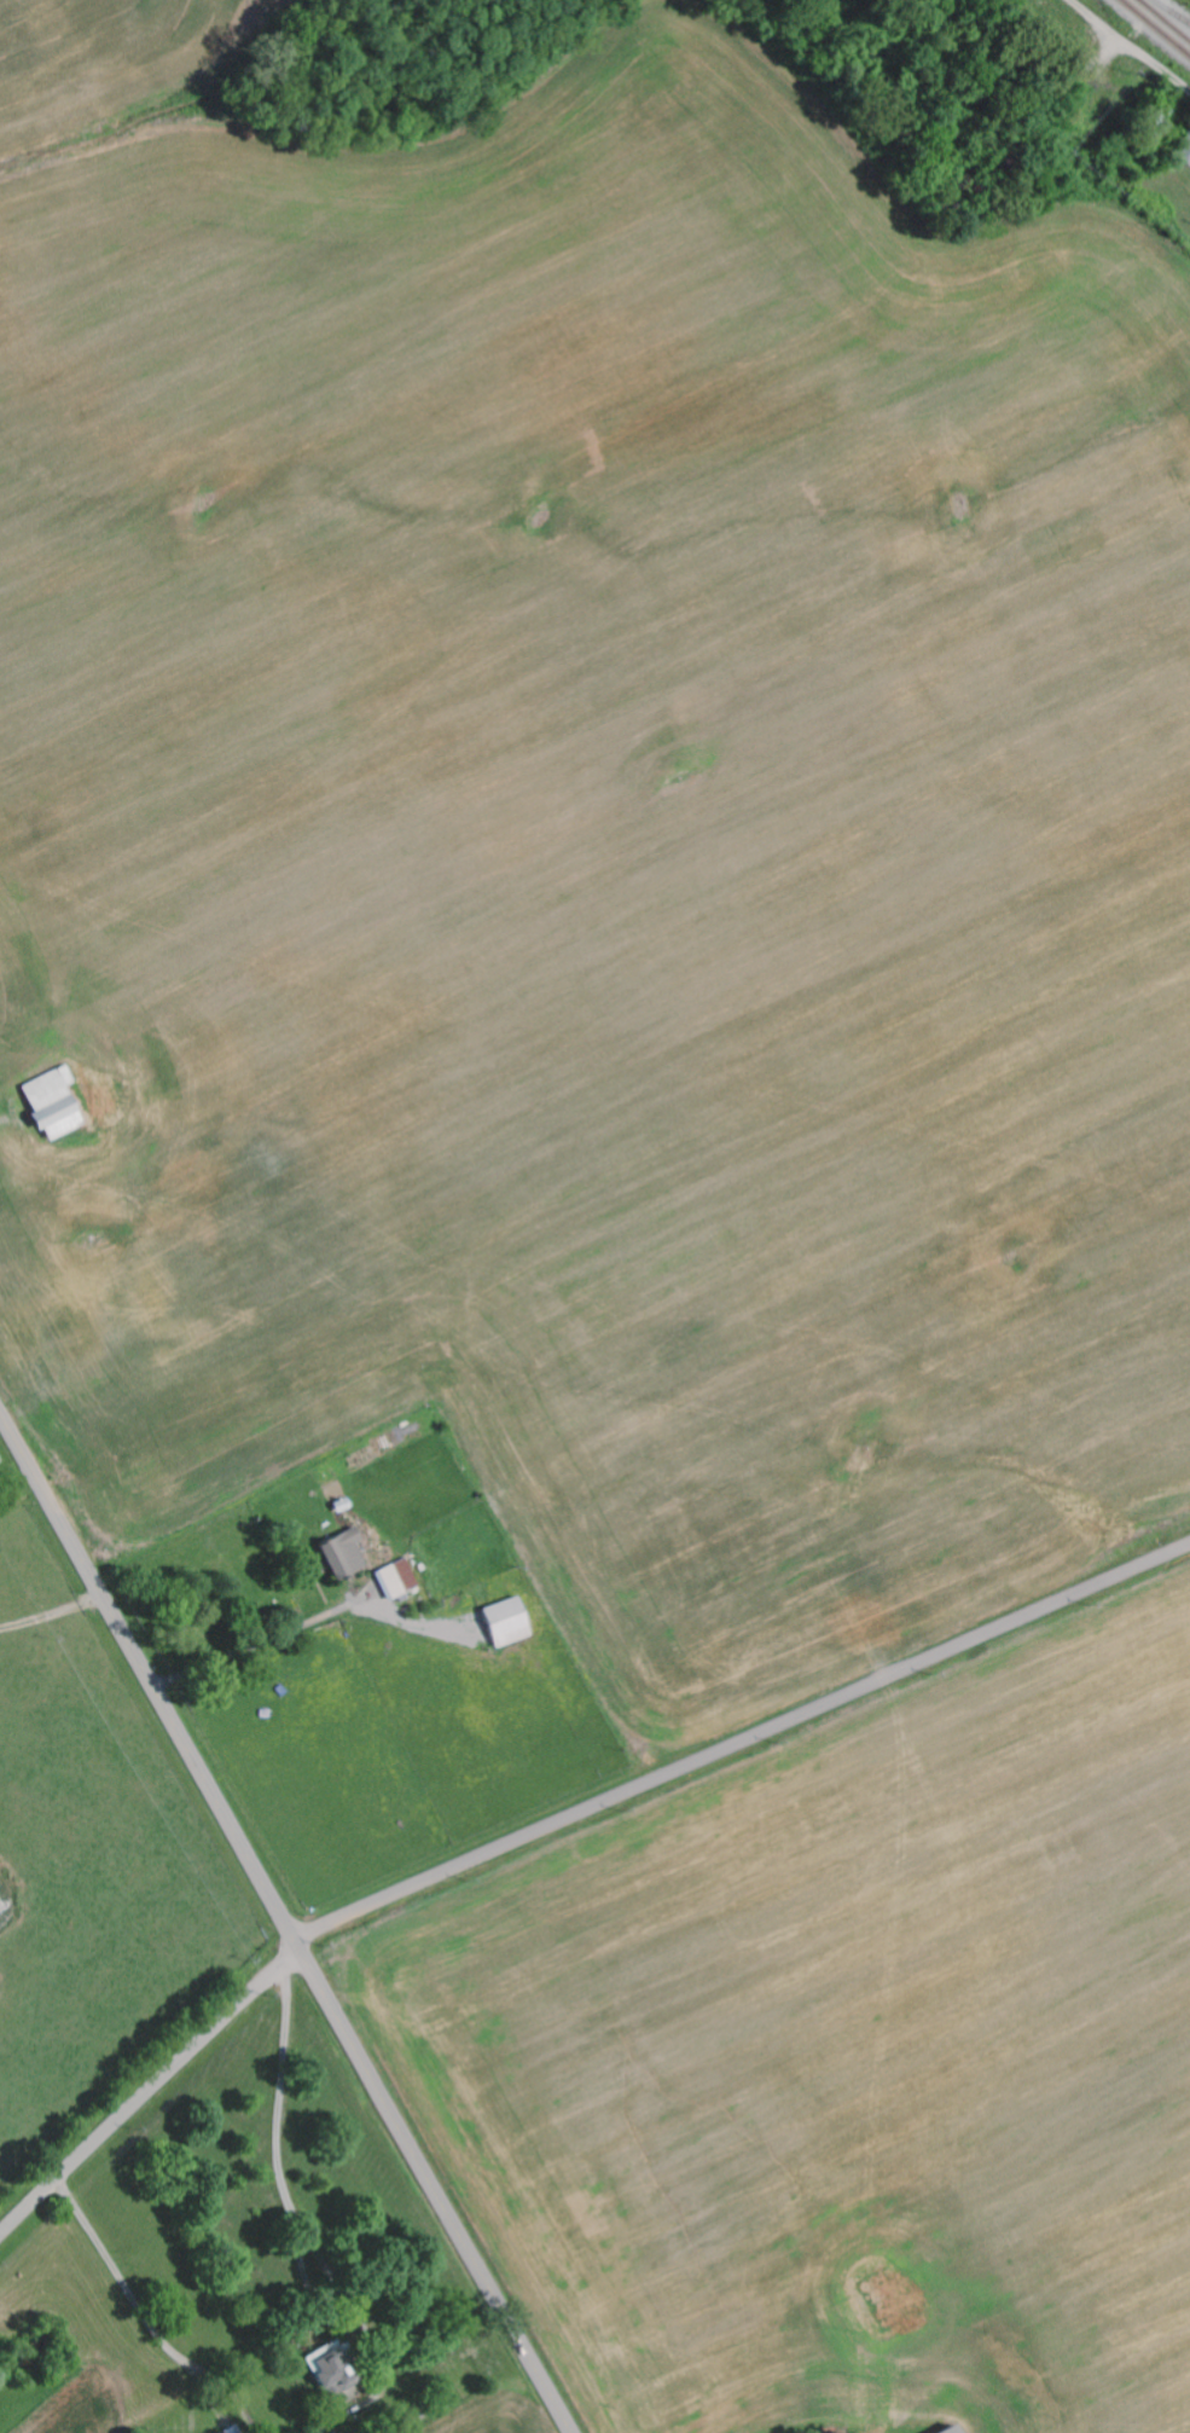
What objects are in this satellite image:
railway: (1172, 11)
railway: (1163, 21)
railway: (1154, 29)
road: (1185, 89)
building: (1184, 149)
building: (53, 1103)
building: (344, 1553)
building: (396, 1580)
building: (507, 1623)
road: (741, 1742)
road: (285, 1923)
road: (149, 2091)
road: (277, 2148)
road: (123, 2284)
building: (335, 2374)
building: (234, 2431)
building: (953, 2431)

